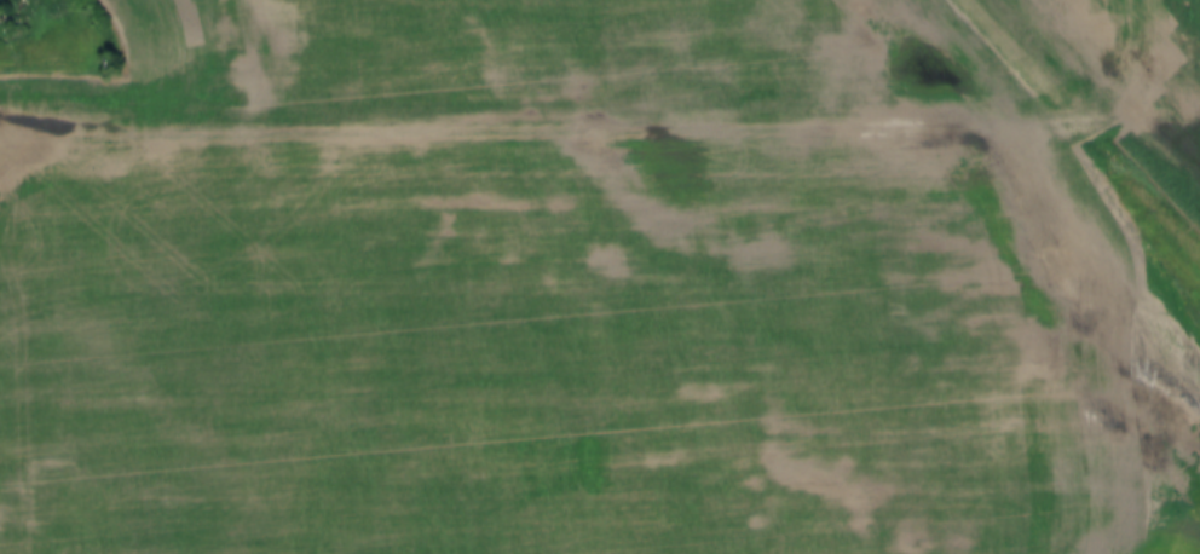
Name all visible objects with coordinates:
building: (6, 23)

